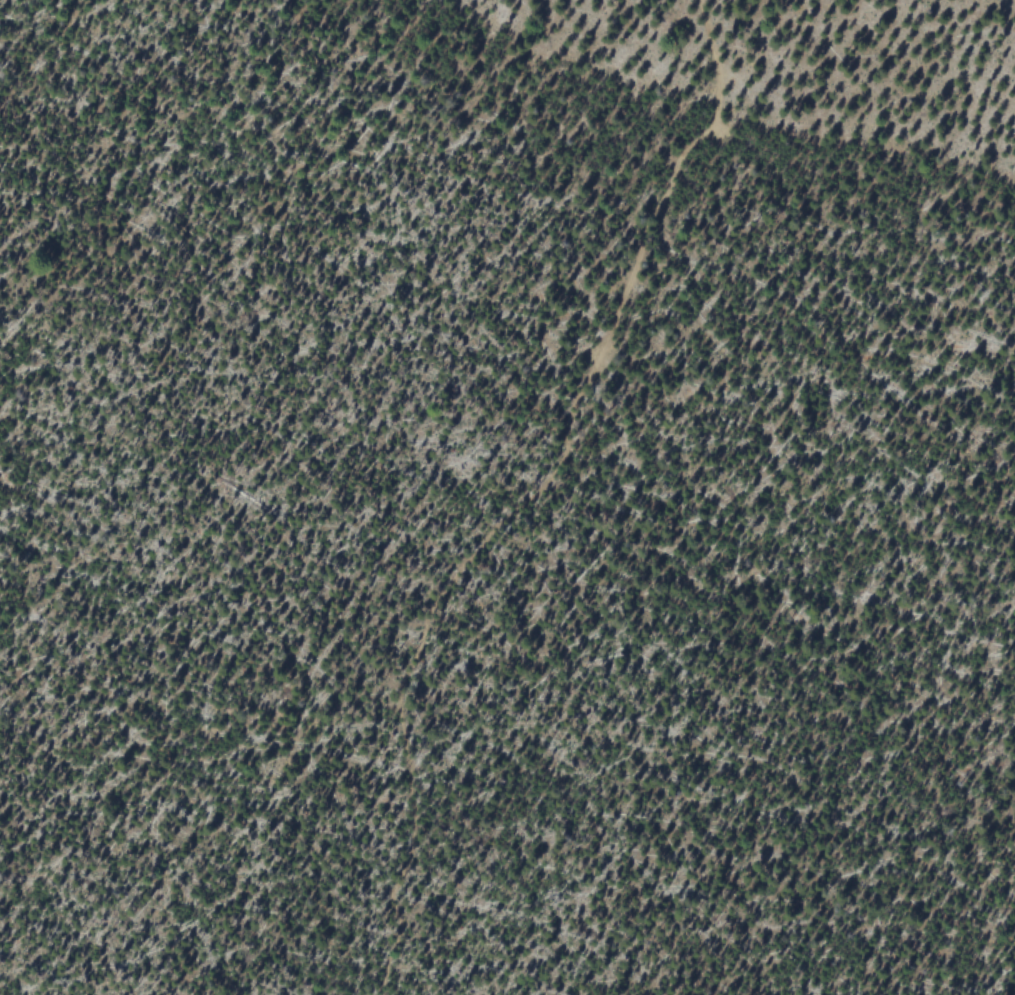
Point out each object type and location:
road: (718, 111)

